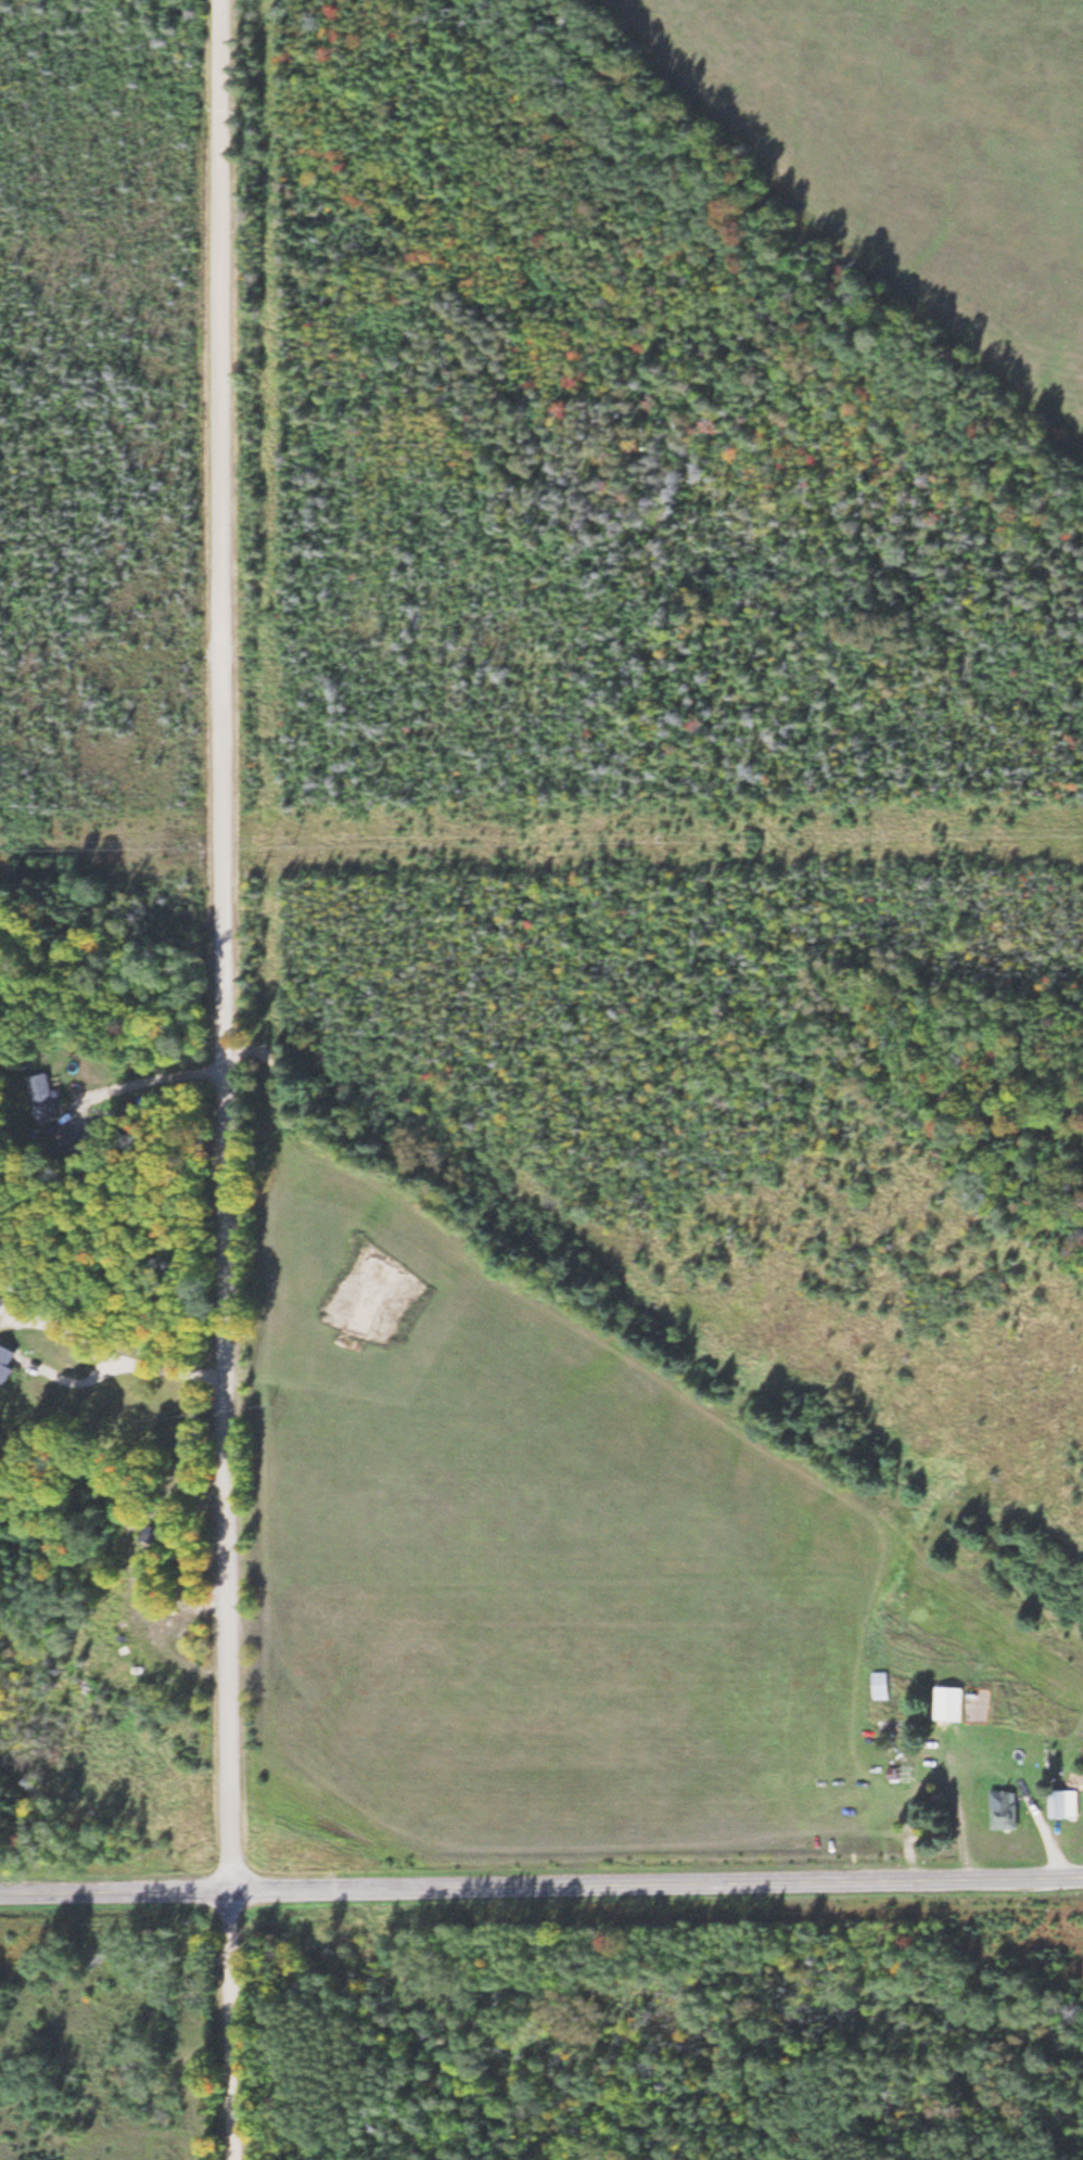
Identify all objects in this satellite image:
road: (225, 1079)
building: (44, 1099)
building: (2, 1313)
building: (11, 1365)
building: (884, 1688)
building: (955, 1707)
building: (1066, 1806)
building: (1007, 1813)
road: (540, 1883)
road: (803, 2010)

